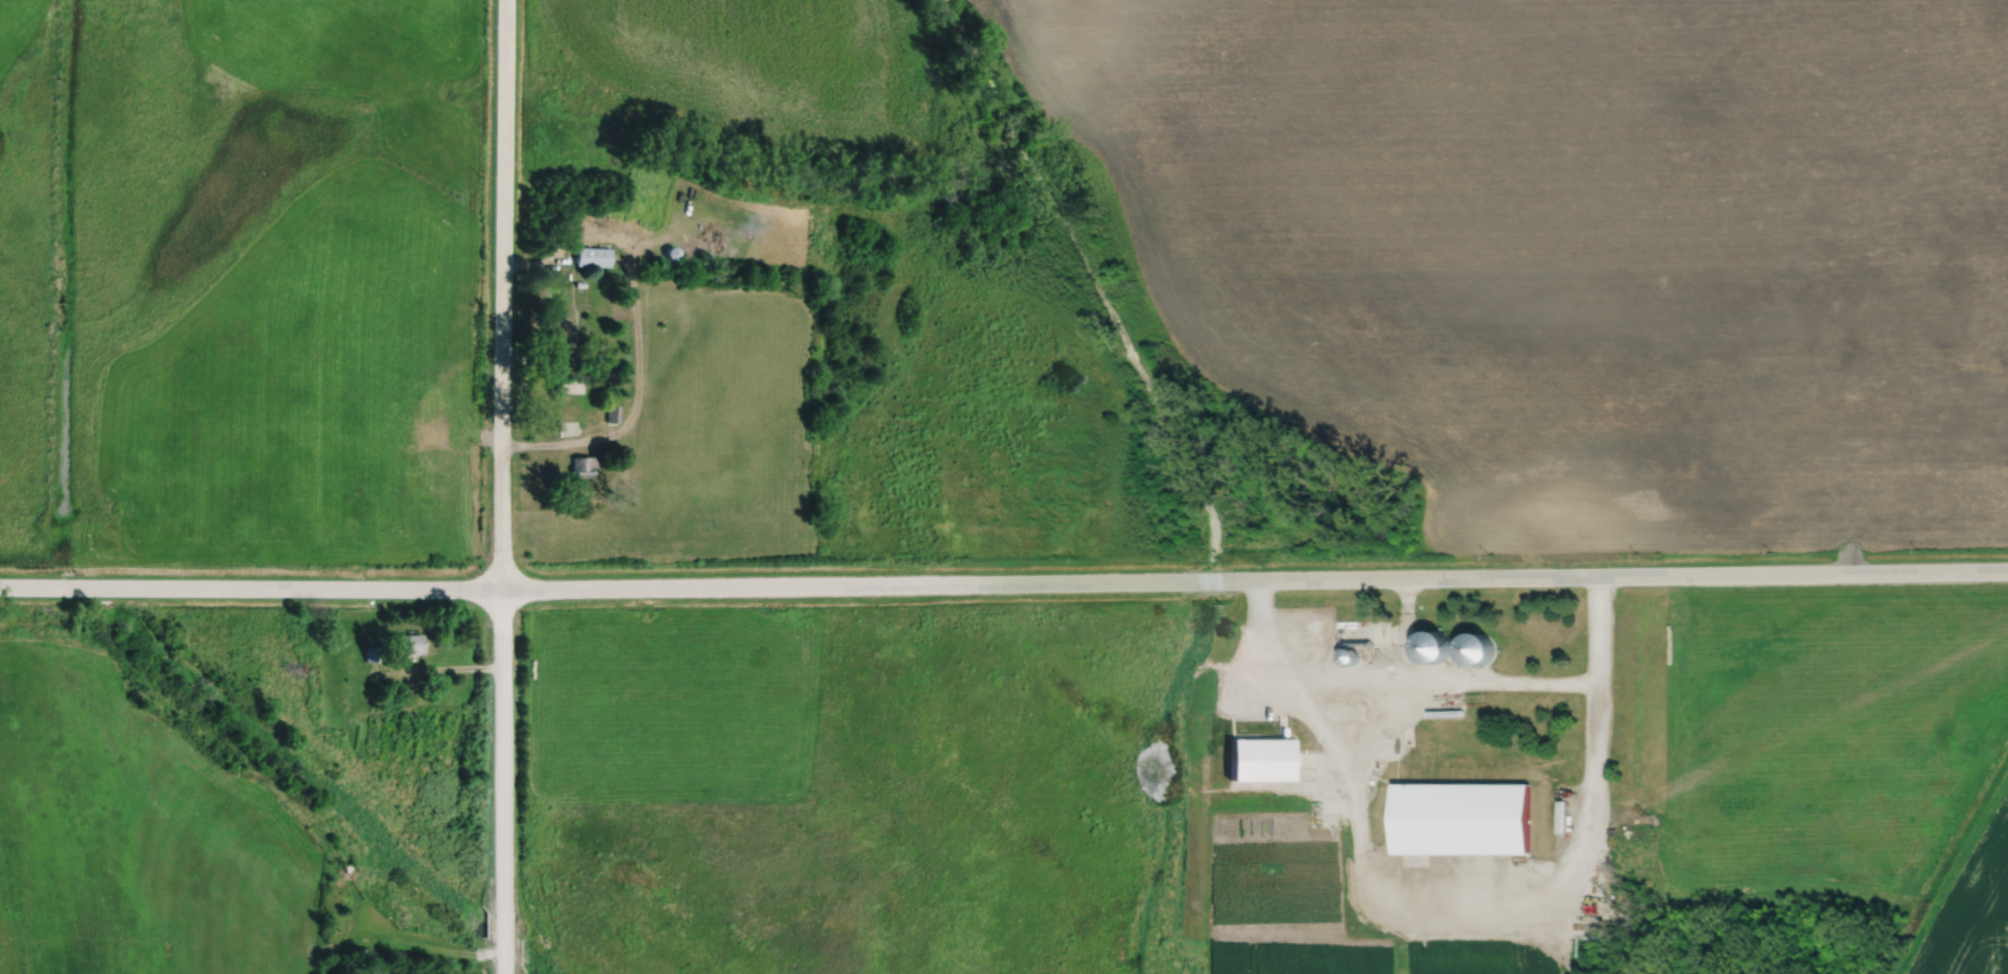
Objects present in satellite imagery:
building: (672, 253)
building: (592, 257)
building: (580, 284)
road: (504, 294)
building: (557, 341)
building: (566, 388)
building: (614, 413)
road: (561, 446)
building: (584, 465)
road: (1004, 582)
building: (1365, 636)
building: (408, 643)
building: (1433, 645)
building: (1477, 647)
building: (371, 654)
building: (1349, 655)
road: (438, 668)
road: (1394, 680)
road: (1451, 681)
building: (1499, 693)
building: (1259, 759)
road: (503, 781)
building: (1558, 816)
building: (1462, 819)
building: (1567, 819)
building: (347, 868)
road: (1460, 908)
crop: (1972, 911)
building: (359, 951)
crop: (1384, 955)

